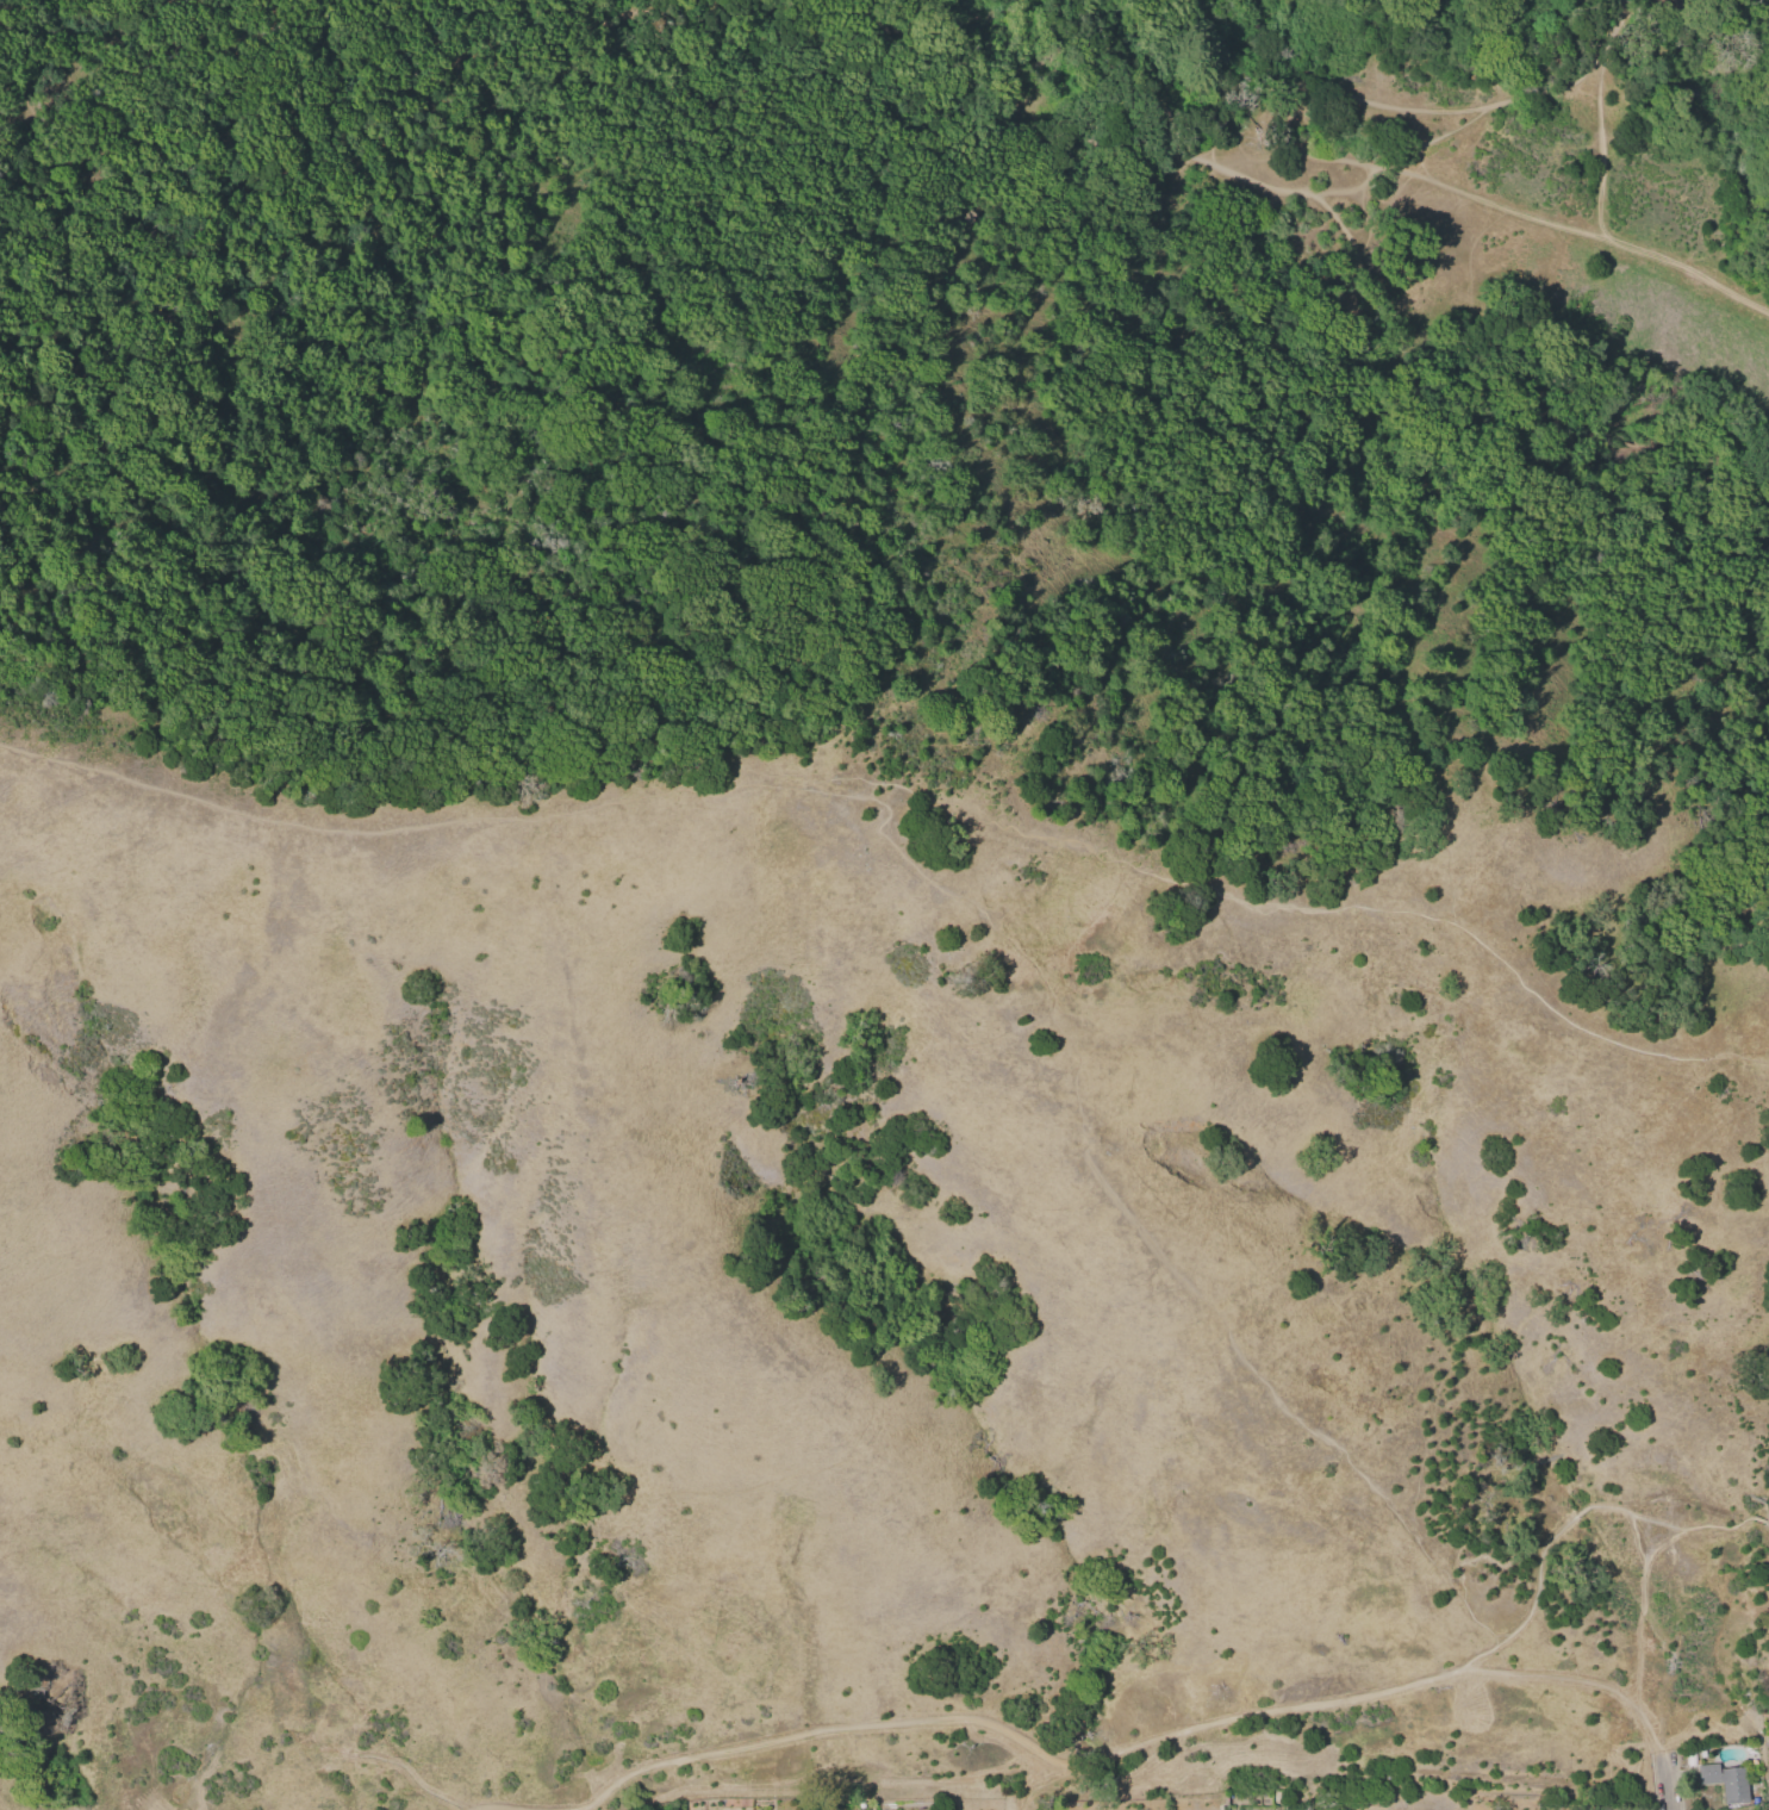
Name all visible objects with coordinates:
road: (594, 0)
road: (1613, 18)
road: (1608, 38)
road: (1601, 55)
river: (1651, 60)
road: (1206, 71)
road: (1228, 192)
road: (1613, 234)
park: (879, 891)
road: (1576, 1528)
road: (1578, 1683)
road: (958, 1716)
road: (1044, 1780)
building: (1727, 1781)
road: (1664, 1785)
road: (581, 1808)

